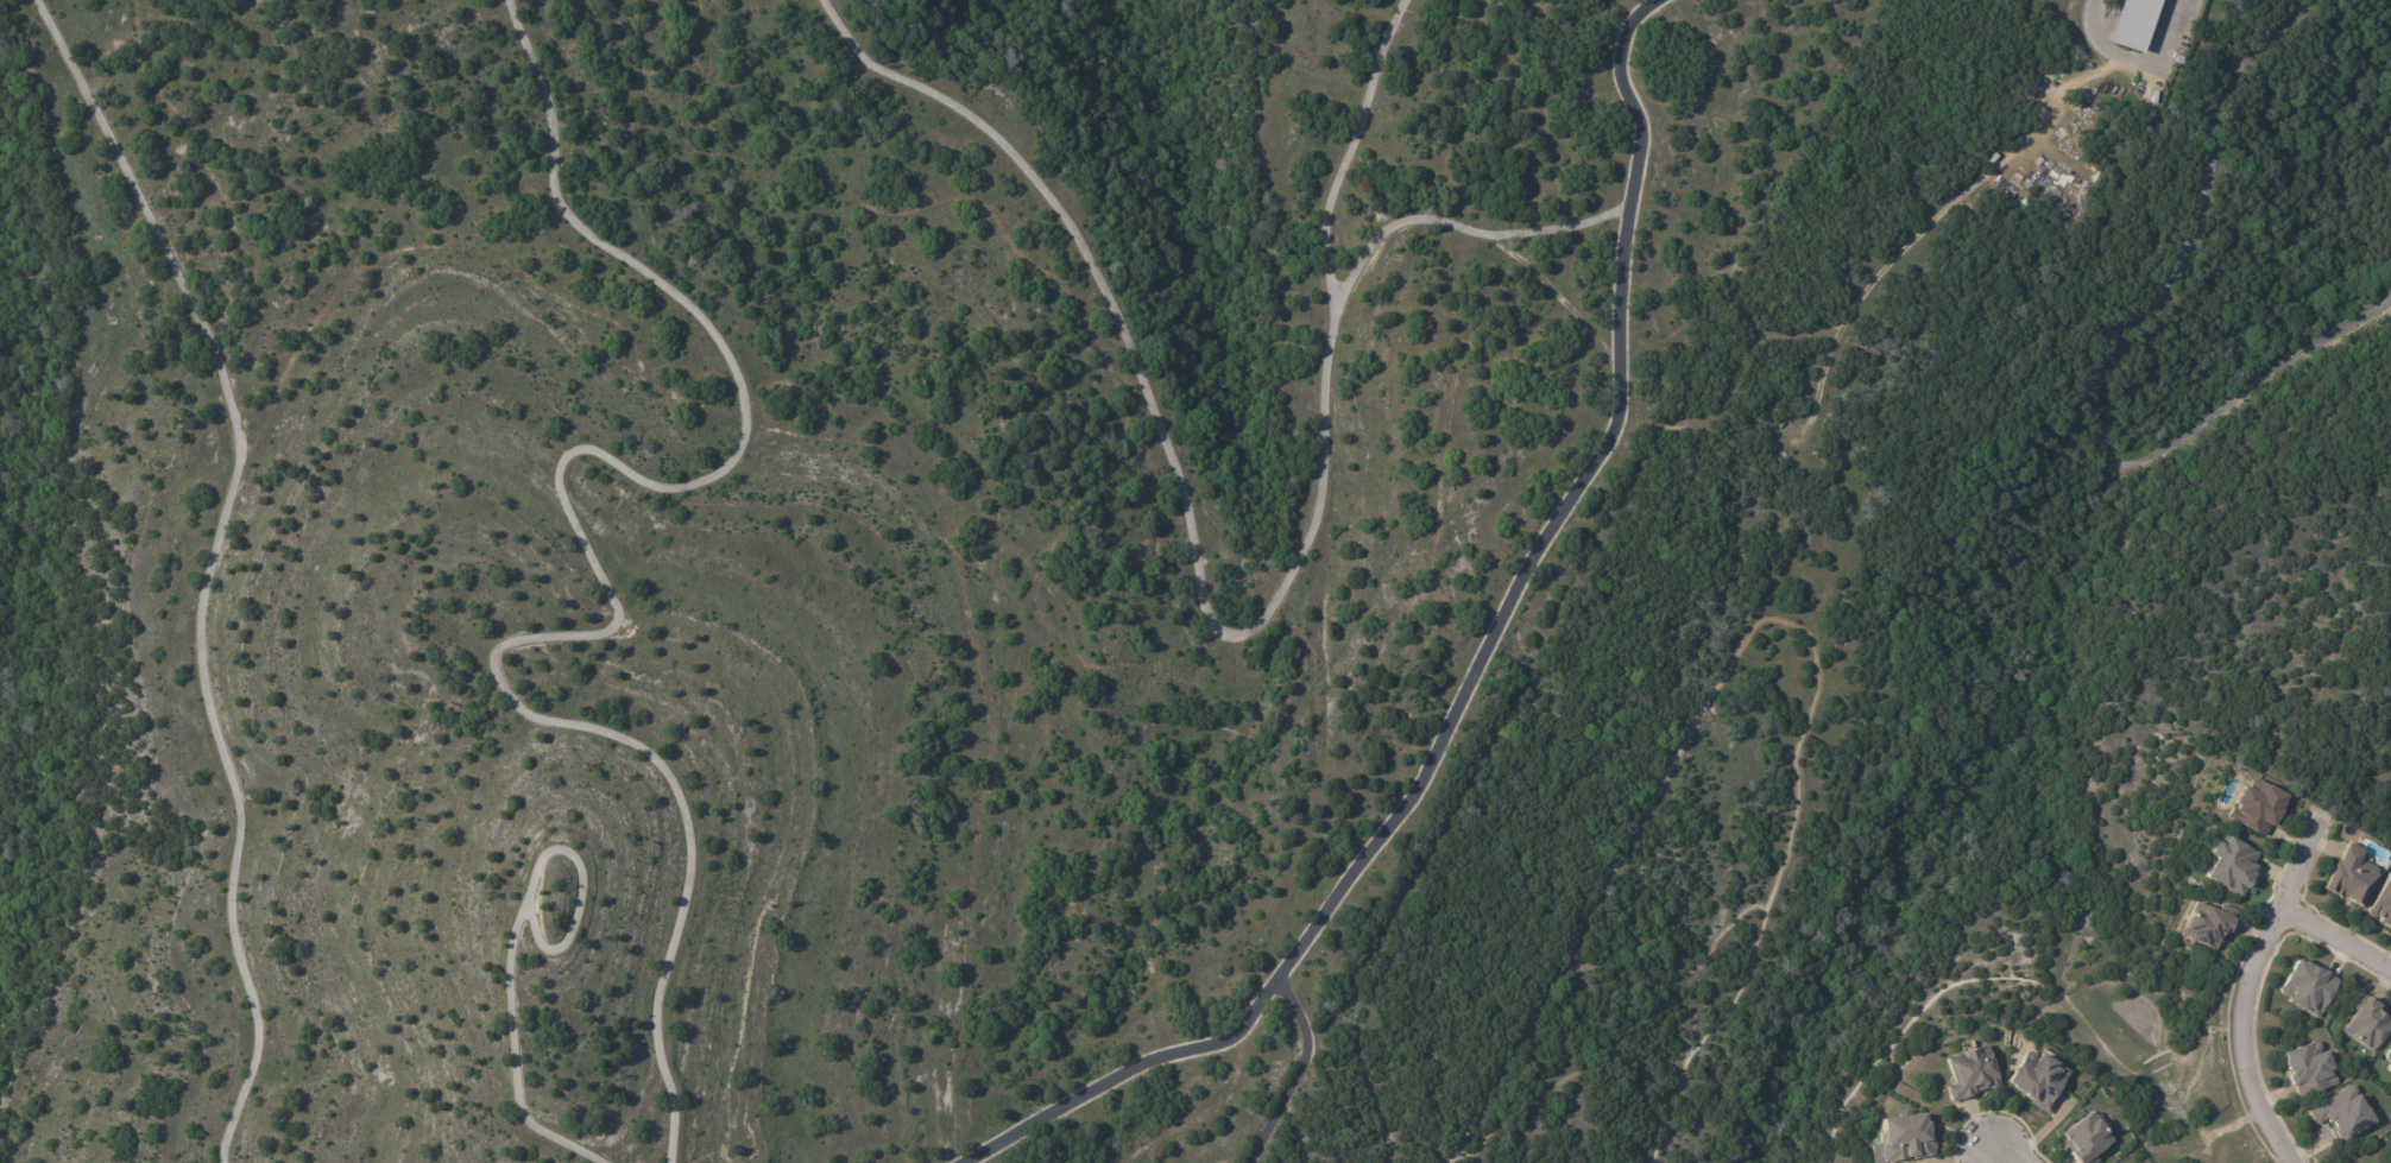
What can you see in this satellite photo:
building: (2137, 25)
road: (1458, 228)
road: (1312, 606)
road: (1470, 676)
building: (2258, 805)
building: (2232, 868)
building: (2352, 876)
building: (2381, 905)
building: (2210, 923)
road: (2335, 938)
road: (2242, 986)
building: (2309, 987)
building: (2368, 1024)
building: (2389, 1055)
building: (2390, 1066)
building: (2309, 1068)
building: (1972, 1072)
building: (2040, 1079)
building: (2345, 1112)
building: (1905, 1137)
building: (2087, 1138)
road: (1998, 1152)

